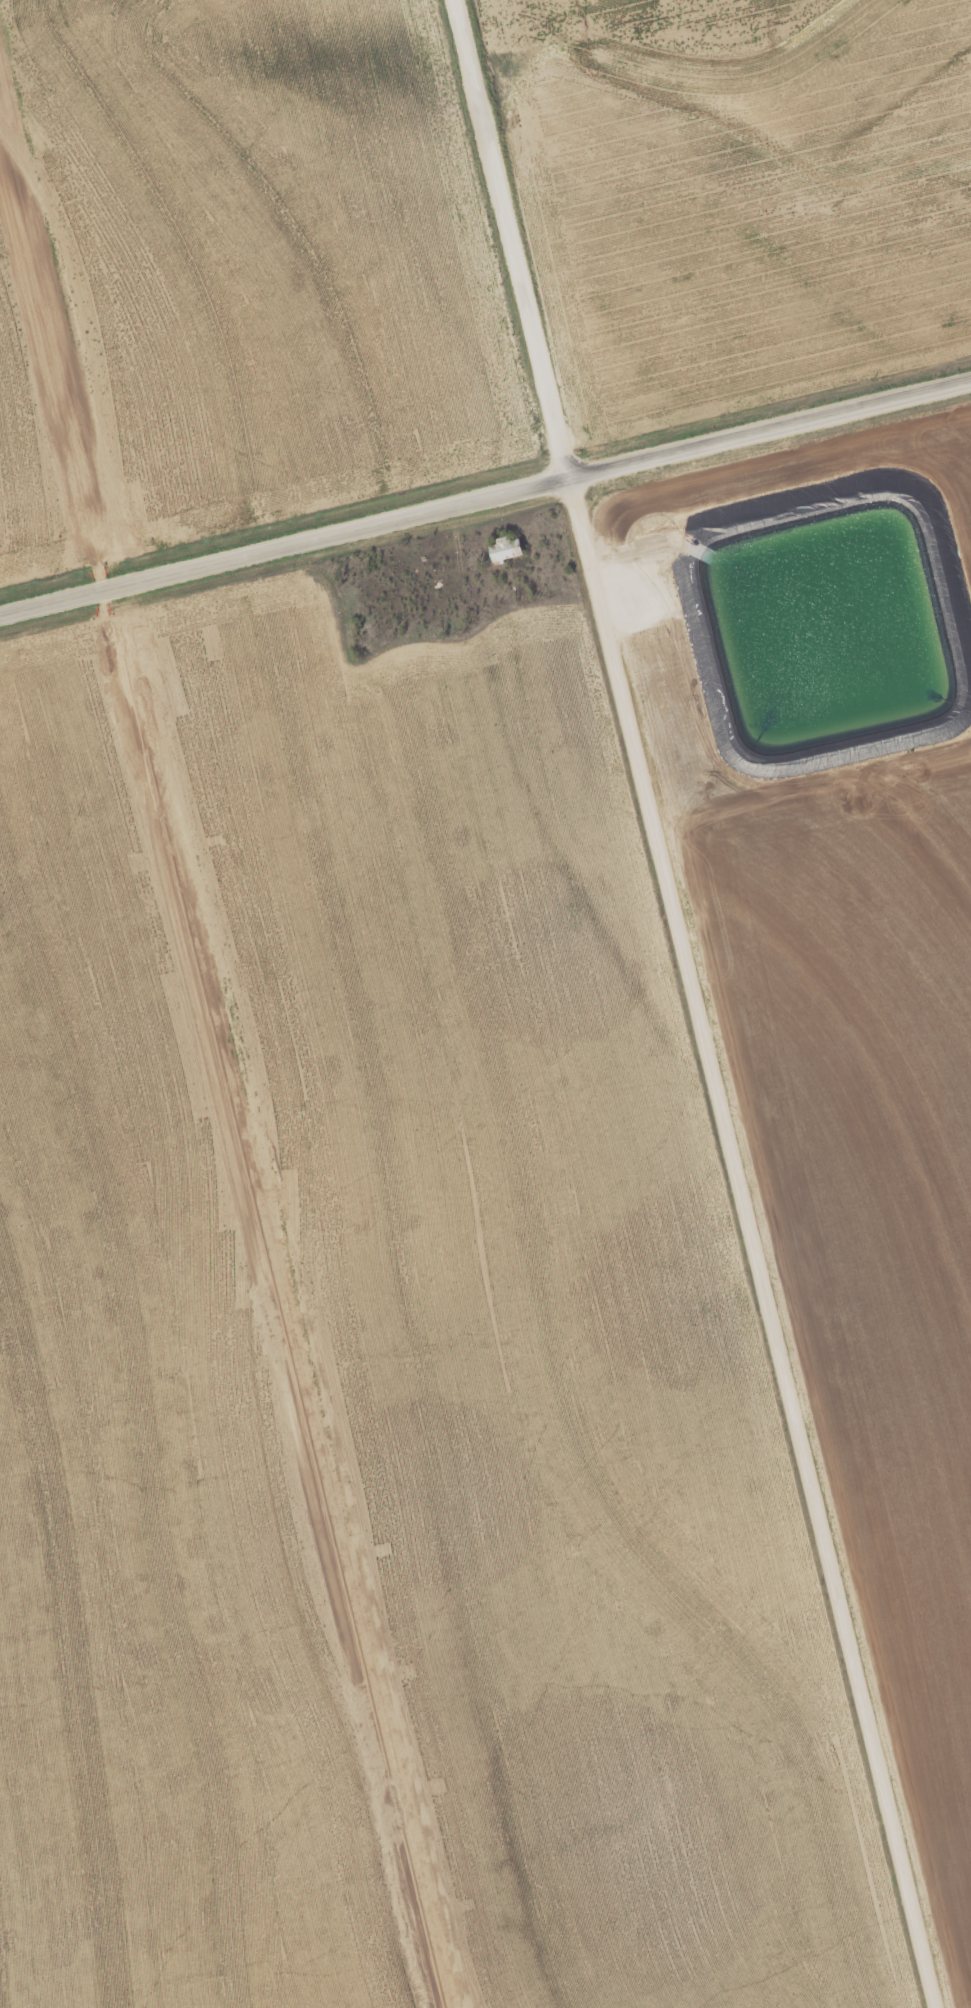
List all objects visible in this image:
road: (485, 496)
road: (700, 1003)

